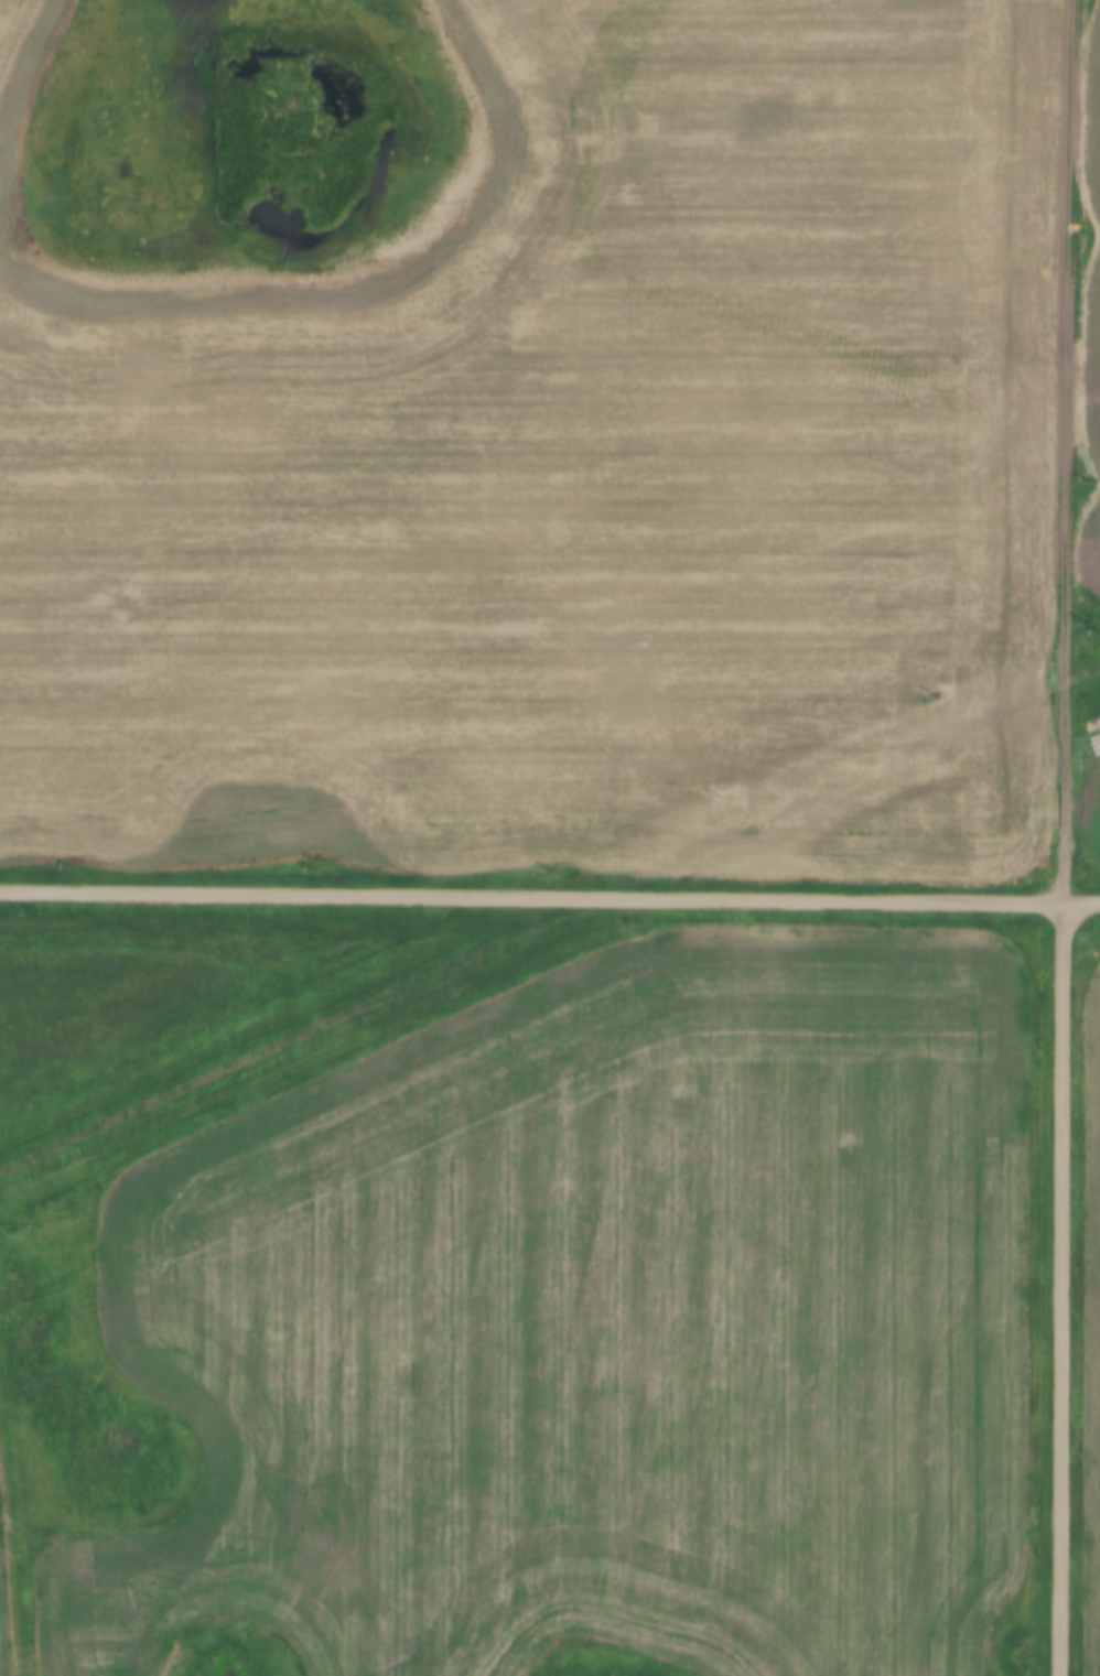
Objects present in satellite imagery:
road: (1066, 451)
road: (549, 898)
road: (1063, 1288)

